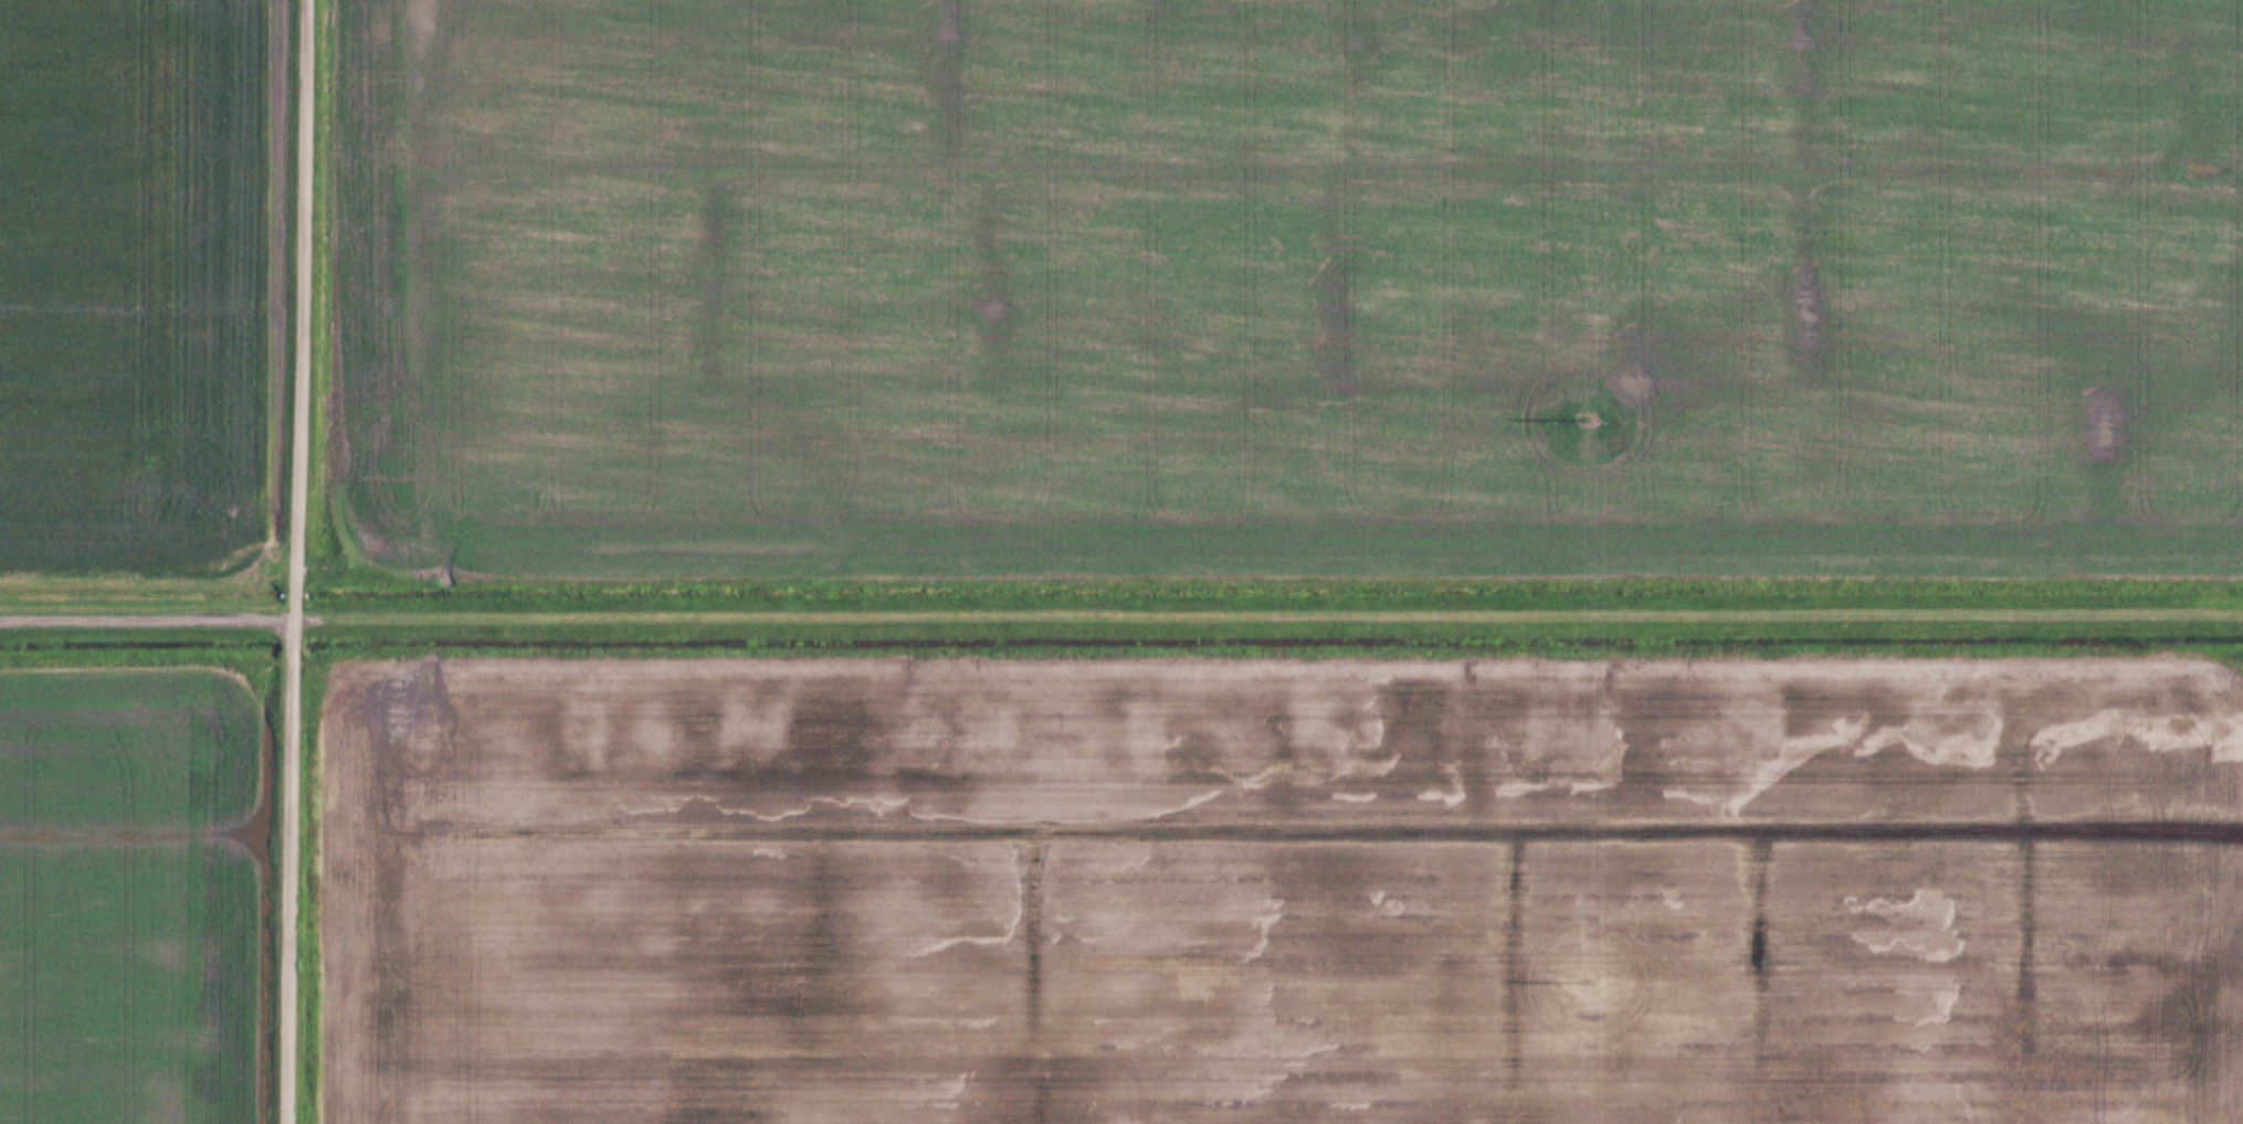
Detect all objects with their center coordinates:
power tower: (1596, 417)
road: (295, 561)
road: (147, 616)
power tower: (1582, 979)

